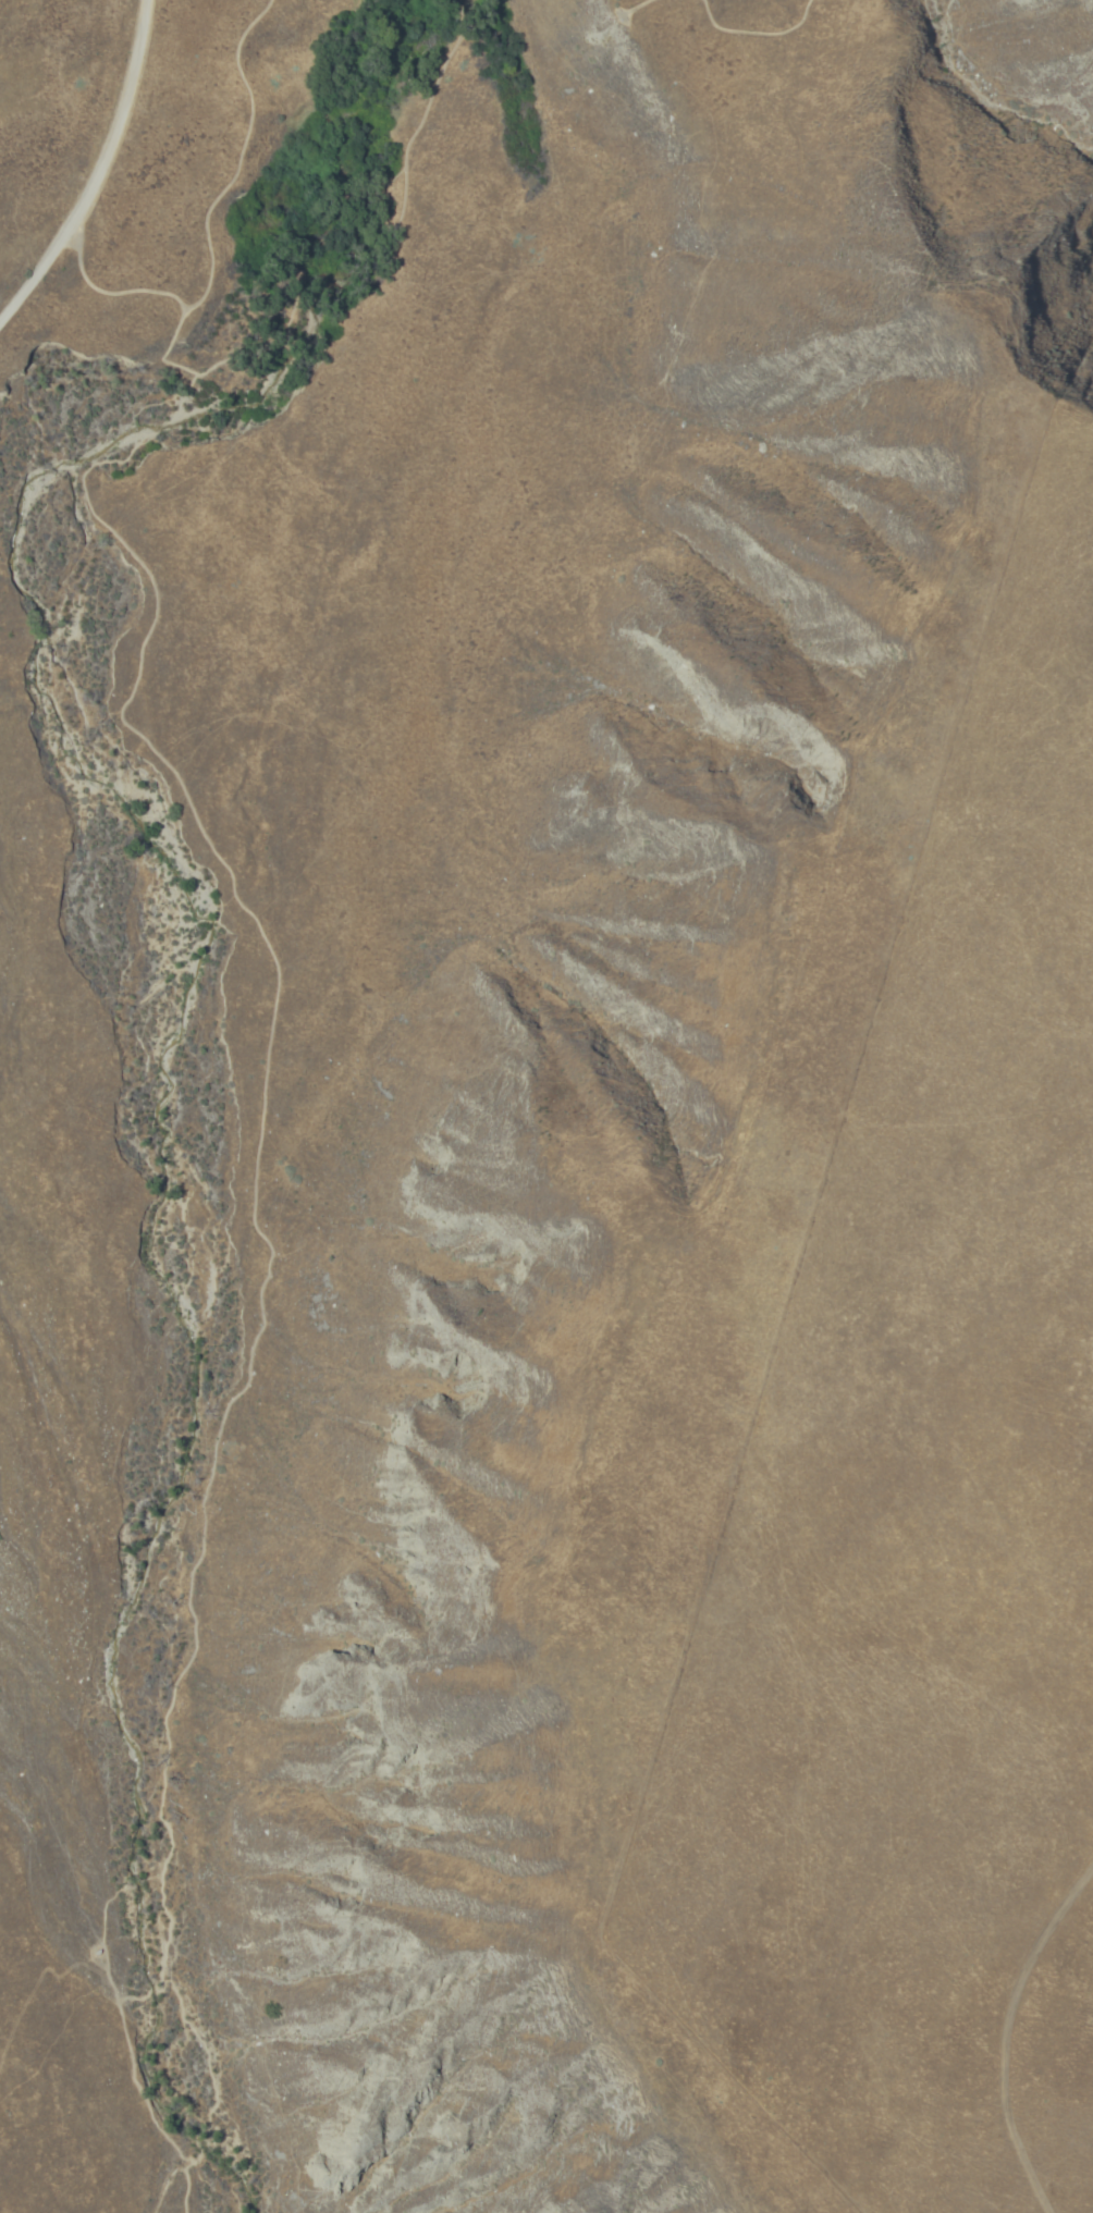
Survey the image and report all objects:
road: (625, 14)
road: (751, 30)
road: (241, 162)
road: (102, 179)
road: (155, 299)
road: (270, 952)

